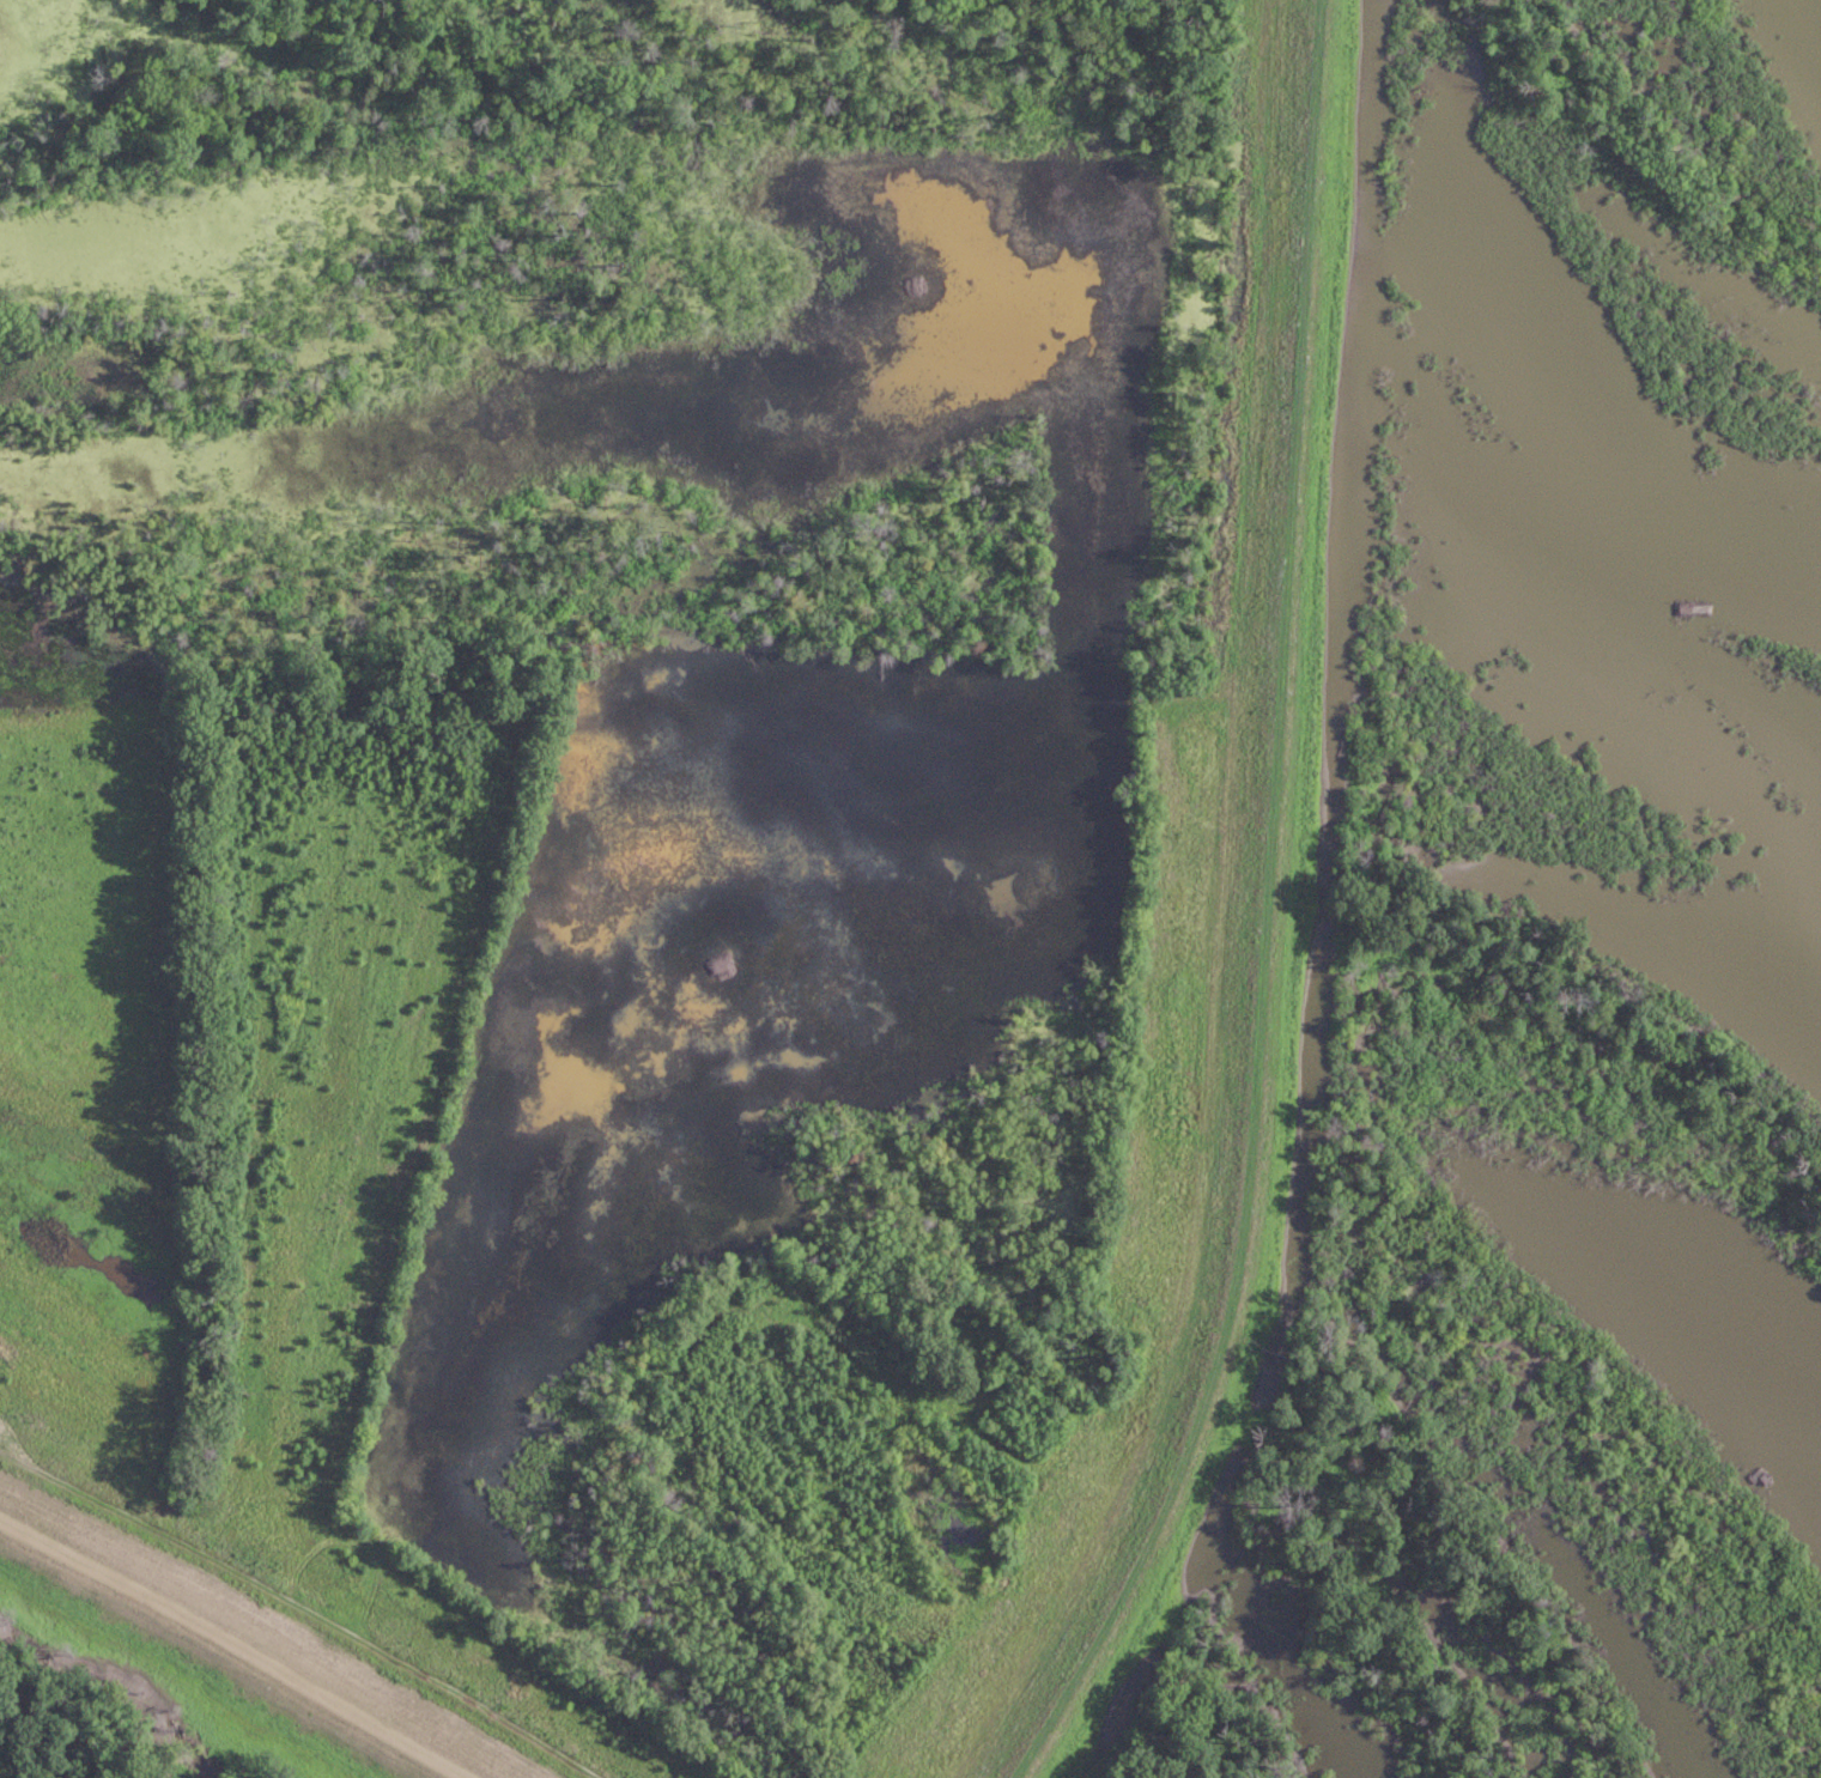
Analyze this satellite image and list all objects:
road: (350, 1572)

